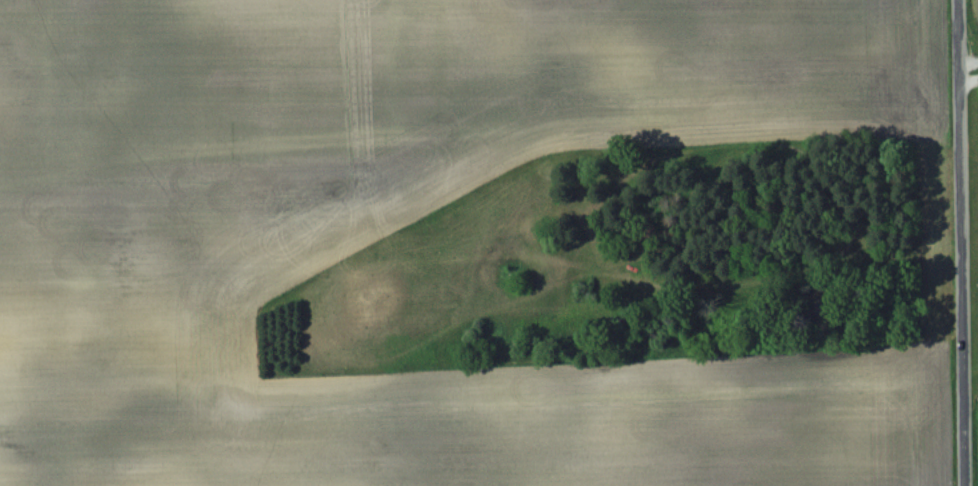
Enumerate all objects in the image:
road: (964, 71)
road: (955, 243)

